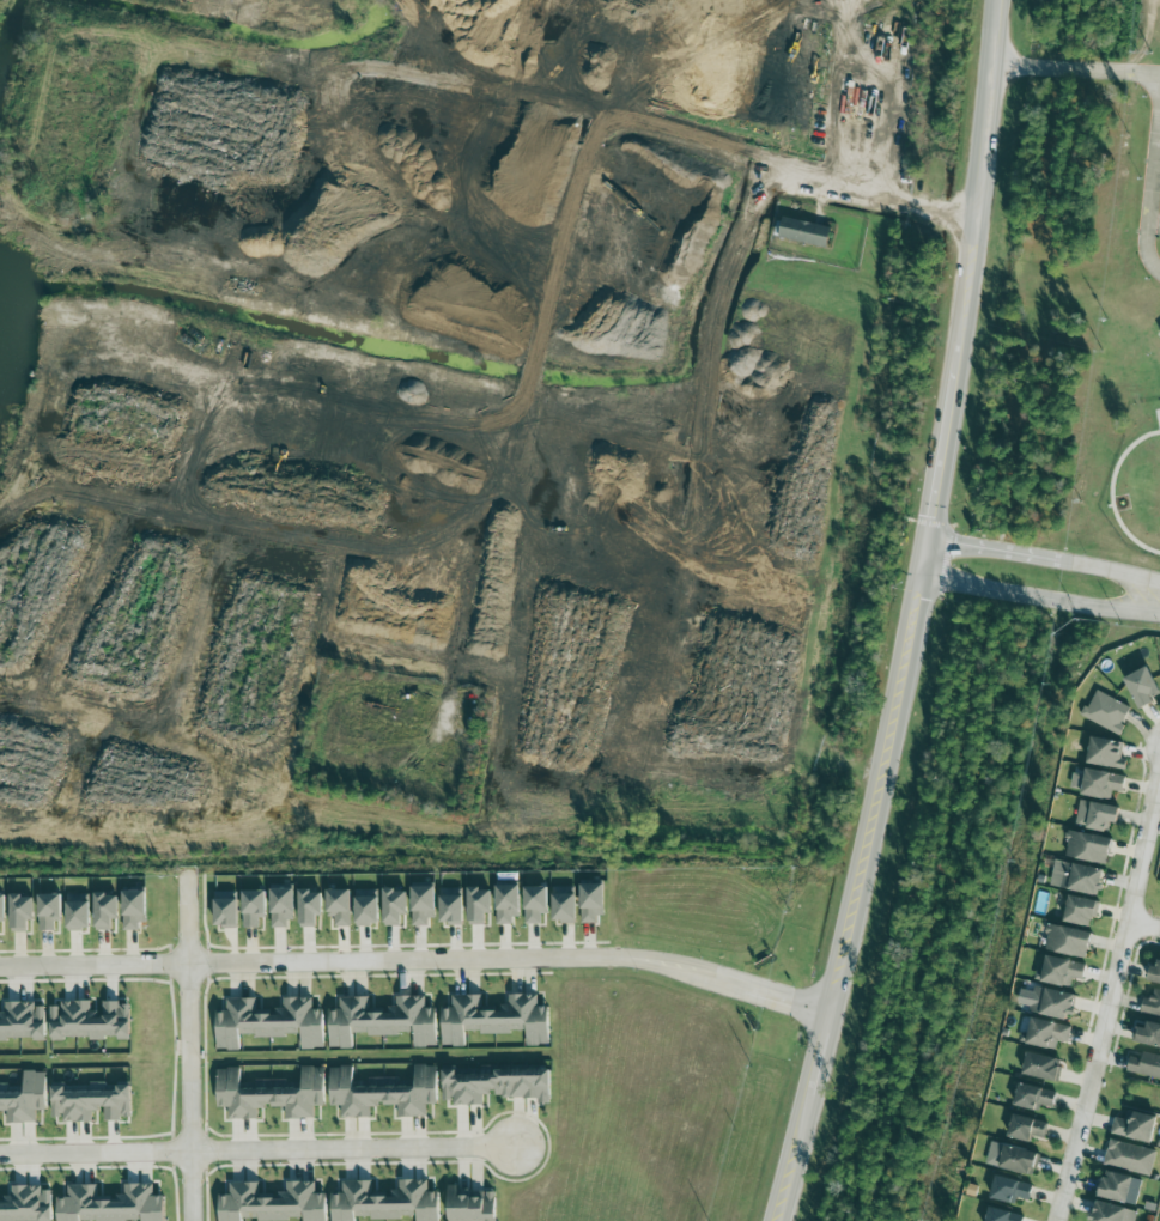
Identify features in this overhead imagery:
road: (996, 31)
road: (1077, 68)
road: (1152, 190)
road: (887, 196)
road: (1154, 227)
building: (804, 232)
road: (965, 257)
road: (928, 515)
traffic signals: (928, 516)
traffic signals: (955, 545)
road: (992, 549)
road: (1110, 572)
traffic signals: (917, 597)
road: (1039, 597)
building: (1142, 686)
building: (1106, 711)
building: (1105, 752)
building: (1098, 783)
building: (1095, 815)
building: (1087, 846)
building: (1076, 876)
road: (851, 899)
building: (591, 901)
building: (534, 903)
building: (563, 903)
building: (421, 904)
building: (478, 904)
building: (505, 904)
building: (281, 905)
building: (450, 905)
building: (338, 906)
building: (365, 906)
building: (1, 907)
building: (251, 907)
building: (308, 907)
building: (393, 907)
building: (132, 909)
building: (224, 909)
building: (47, 910)
building: (104, 910)
building: (1080, 910)
building: (77, 911)
building: (19, 912)
road: (1143, 921)
building: (1067, 941)
road: (417, 956)
building: (1062, 971)
building: (1154, 973)
road: (1109, 995)
building: (1052, 1002)
building: (1152, 1004)
building: (494, 1019)
building: (89, 1020)
building: (22, 1021)
building: (382, 1021)
building: (269, 1022)
building: (1046, 1033)
building: (1148, 1034)
road: (189, 1049)
building: (1144, 1065)
building: (1041, 1067)
building: (470, 1069)
building: (494, 1086)
building: (382, 1092)
building: (269, 1094)
building: (1033, 1097)
building: (24, 1098)
building: (92, 1101)
building: (1134, 1126)
building: (1026, 1128)
road: (257, 1147)
building: (1129, 1158)
building: (1018, 1160)
building: (1119, 1187)
building: (1009, 1190)
building: (384, 1202)
building: (272, 1203)
building: (26, 1204)
building: (110, 1204)
building: (470, 1204)
building: (1112, 1213)
building: (1002, 1215)

